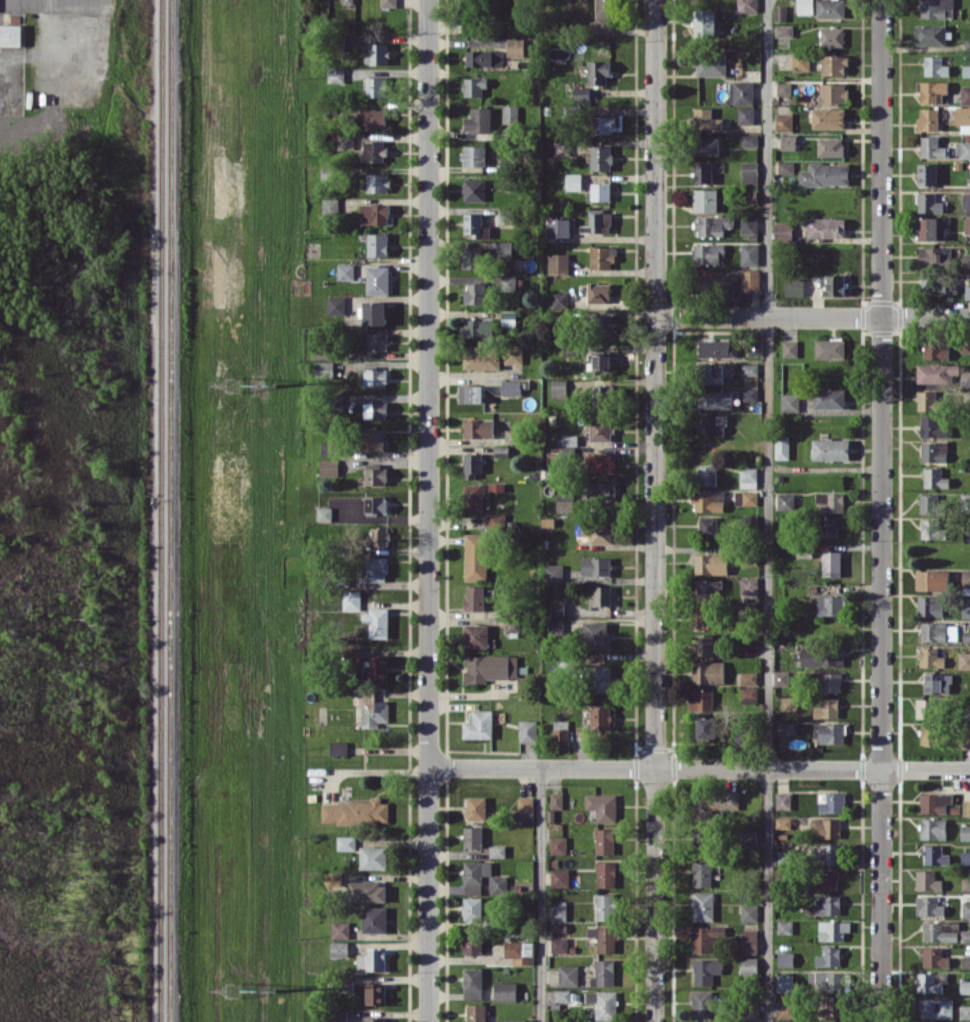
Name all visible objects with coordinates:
building: (348, 1)
road: (67, 2)
building: (388, 3)
building: (747, 6)
building: (805, 6)
building: (830, 8)
building: (936, 8)
building: (780, 13)
building: (605, 16)
building: (705, 23)
building: (784, 30)
building: (11, 34)
building: (931, 34)
building: (831, 36)
building: (967, 43)
building: (515, 47)
building: (377, 54)
building: (484, 58)
building: (800, 61)
building: (711, 63)
building: (834, 64)
building: (935, 66)
building: (966, 70)
building: (598, 71)
building: (335, 75)
building: (375, 86)
building: (473, 86)
building: (784, 88)
building: (932, 90)
building: (741, 92)
building: (833, 93)
building: (965, 94)
building: (510, 113)
building: (745, 114)
building: (374, 118)
building: (828, 118)
building: (706, 119)
building: (928, 119)
building: (963, 119)
building: (478, 120)
building: (783, 121)
building: (602, 124)
building: (749, 140)
building: (788, 141)
building: (707, 146)
building: (830, 146)
building: (561, 147)
building: (932, 147)
building: (962, 149)
building: (373, 150)
building: (473, 155)
building: (601, 157)
building: (785, 166)
building: (702, 172)
building: (749, 172)
building: (825, 174)
building: (927, 174)
building: (573, 181)
building: (375, 182)
building: (473, 189)
building: (600, 191)
building: (750, 195)
building: (705, 199)
building: (966, 200)
building: (928, 203)
building: (329, 206)
building: (374, 213)
building: (597, 221)
building: (473, 224)
building: (713, 224)
building: (967, 224)
building: (749, 225)
building: (560, 227)
building: (826, 227)
building: (929, 228)
building: (783, 230)
building: (377, 244)
building: (504, 248)
building: (707, 253)
building: (749, 254)
building: (934, 255)
building: (603, 257)
building: (473, 258)
building: (966, 260)
building: (558, 263)
building: (345, 271)
building: (377, 280)
building: (750, 280)
building: (508, 282)
building: (716, 282)
building: (928, 282)
building: (834, 285)
building: (794, 286)
building: (968, 289)
building: (598, 292)
building: (474, 293)
building: (560, 299)
building: (335, 305)
building: (374, 313)
road: (811, 316)
building: (507, 318)
building: (477, 327)
building: (377, 341)
building: (965, 346)
building: (755, 347)
building: (716, 348)
building: (789, 348)
building: (829, 348)
building: (935, 350)
building: (490, 356)
building: (601, 361)
building: (323, 369)
building: (749, 369)
building: (716, 372)
building: (932, 373)
building: (375, 376)
power tower: (271, 383)
power tower: (233, 385)
building: (510, 387)
building: (558, 388)
building: (471, 393)
building: (603, 393)
building: (749, 393)
building: (827, 397)
building: (715, 400)
building: (928, 400)
building: (789, 402)
building: (375, 410)
building: (710, 424)
building: (932, 427)
building: (479, 428)
building: (599, 430)
building: (511, 436)
building: (569, 439)
building: (370, 441)
building: (781, 447)
building: (328, 448)
building: (830, 449)
building: (500, 451)
building: (933, 451)
building: (599, 463)
building: (472, 464)
building: (328, 467)
road: (823, 468)
building: (374, 474)
building: (706, 475)
building: (748, 477)
building: (934, 478)
building: (602, 492)
building: (473, 496)
building: (749, 497)
building: (785, 500)
building: (565, 502)
building: (705, 502)
building: (829, 502)
building: (931, 503)
building: (375, 504)
railway: (160, 510)
railway: (170, 510)
road: (427, 510)
road: (653, 510)
road: (880, 510)
road: (767, 511)
building: (323, 513)
building: (495, 521)
building: (707, 526)
building: (828, 527)
building: (933, 528)
building: (596, 530)
building: (378, 536)
building: (475, 556)
building: (710, 563)
building: (831, 563)
building: (595, 565)
building: (376, 568)
building: (553, 572)
building: (965, 577)
building: (932, 580)
building: (749, 586)
building: (707, 589)
building: (600, 596)
building: (474, 597)
building: (351, 599)
building: (829, 604)
building: (929, 605)
building: (556, 607)
building: (966, 609)
building: (702, 618)
building: (377, 622)
building: (511, 624)
building: (933, 631)
building: (968, 632)
building: (475, 635)
building: (596, 635)
building: (966, 638)
building: (747, 641)
building: (703, 645)
building: (821, 656)
building: (930, 657)
building: (964, 660)
building: (489, 667)
building: (376, 668)
building: (707, 672)
building: (748, 677)
building: (780, 677)
building: (600, 678)
building: (827, 681)
building: (937, 682)
building: (746, 695)
building: (701, 699)
building: (788, 703)
building: (372, 705)
building: (826, 708)
building: (927, 708)
building: (600, 717)
building: (478, 724)
building: (705, 727)
building: (785, 727)
building: (527, 730)
building: (560, 731)
building: (831, 733)
building: (929, 733)
building: (966, 738)
building: (338, 747)
road: (698, 767)
building: (556, 800)
building: (782, 800)
building: (831, 802)
building: (934, 802)
building: (712, 804)
building: (602, 806)
building: (965, 806)
building: (475, 808)
building: (524, 809)
building: (355, 812)
building: (783, 822)
building: (826, 827)
building: (933, 828)
building: (965, 831)
building: (472, 836)
building: (747, 837)
building: (604, 840)
building: (345, 842)
building: (557, 844)
building: (496, 851)
building: (830, 853)
building: (934, 854)
building: (372, 857)
building: (965, 857)
building: (605, 873)
building: (701, 873)
building: (475, 875)
building: (559, 877)
building: (824, 879)
building: (927, 880)
building: (965, 883)
building: (366, 891)
road: (539, 894)
building: (828, 905)
building: (928, 905)
building: (604, 906)
building: (702, 906)
building: (472, 908)
building: (966, 909)
building: (557, 910)
building: (748, 912)
building: (374, 919)
building: (784, 926)
building: (340, 929)
building: (558, 930)
building: (832, 930)
building: (940, 930)
building: (964, 935)
building: (603, 938)
building: (703, 939)
building: (748, 941)
building: (472, 943)
building: (558, 945)
building: (339, 949)
building: (519, 951)
building: (828, 957)
building: (934, 957)
building: (371, 959)
building: (786, 959)
building: (965, 961)
building: (748, 965)
building: (705, 970)
building: (603, 972)
building: (567, 975)
building: (831, 981)
building: (931, 981)
building: (784, 982)
building: (346, 983)
building: (472, 983)
building: (964, 986)
power tower: (236, 988)
power tower: (270, 988)
building: (504, 990)
building: (375, 993)
building: (561, 995)
building: (603, 1003)
building: (701, 1004)
building: (832, 1007)
building: (935, 1008)
building: (785, 1009)
building: (964, 1011)
building: (475, 1013)
building: (338, 1016)
building: (375, 1019)
building: (515, 1020)

